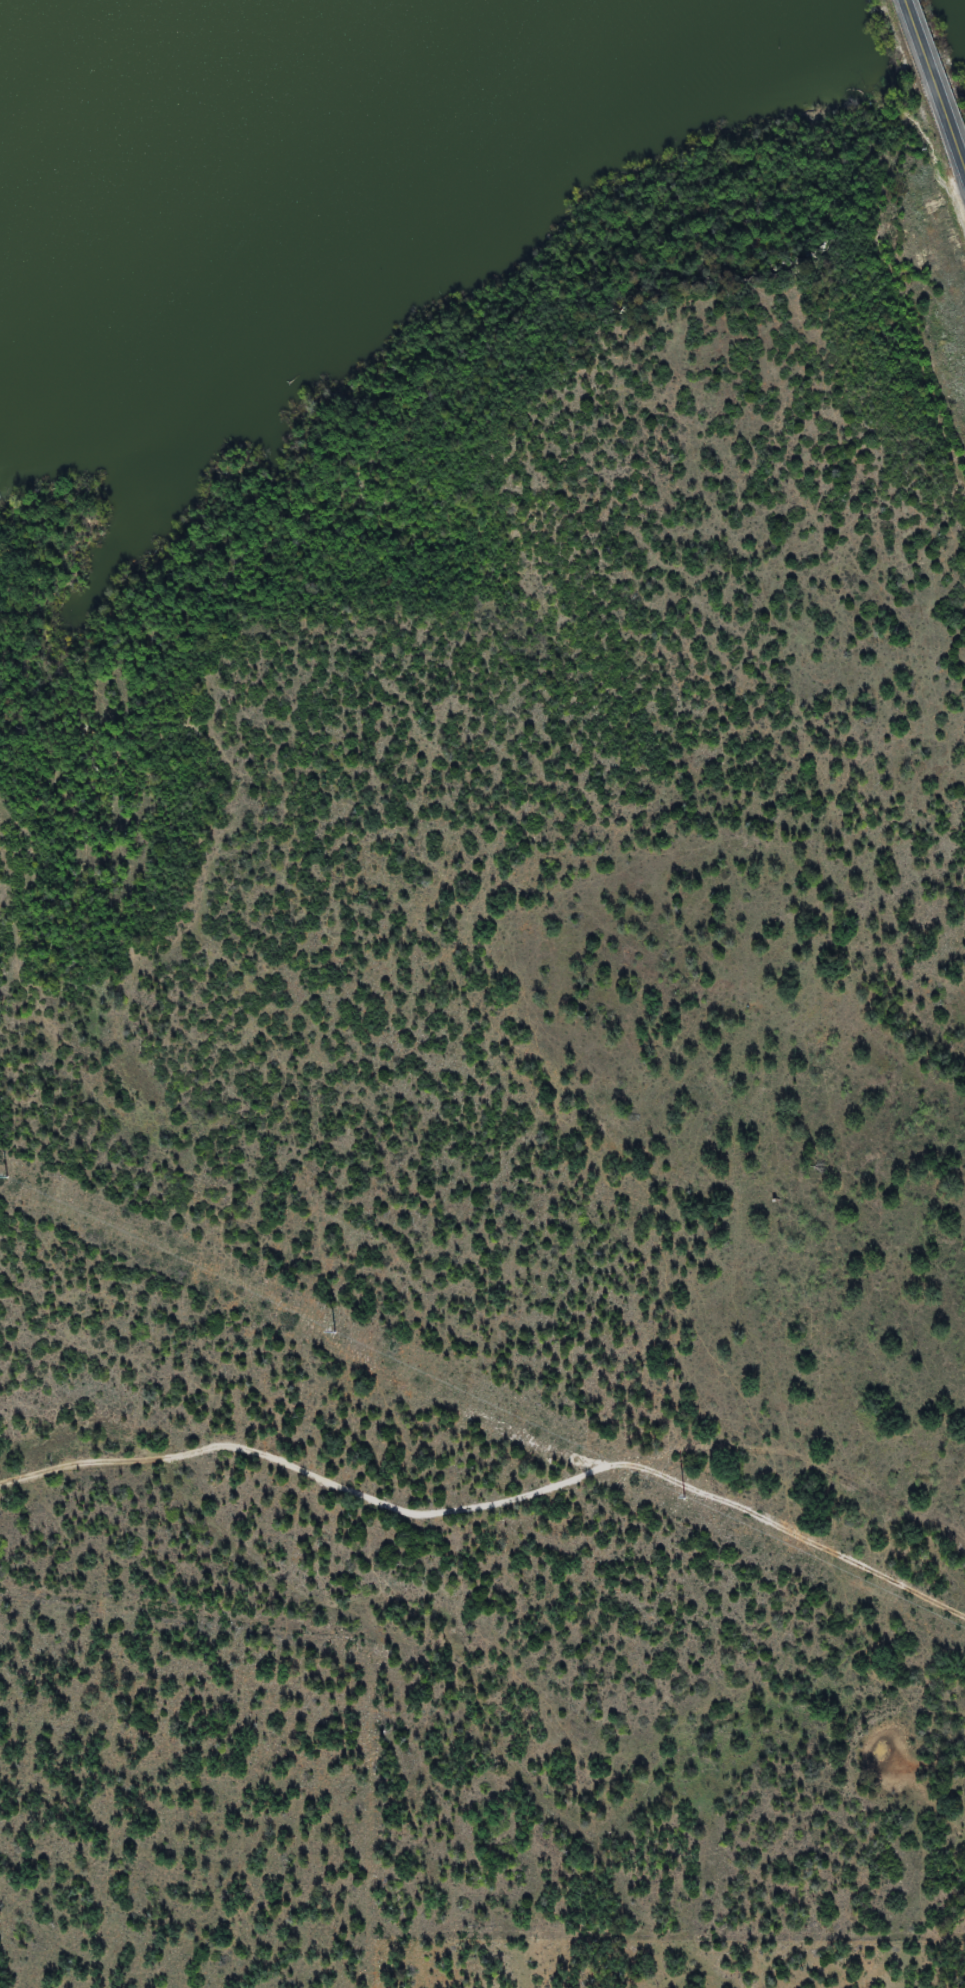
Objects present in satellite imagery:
road: (935, 83)
road: (489, 1517)

